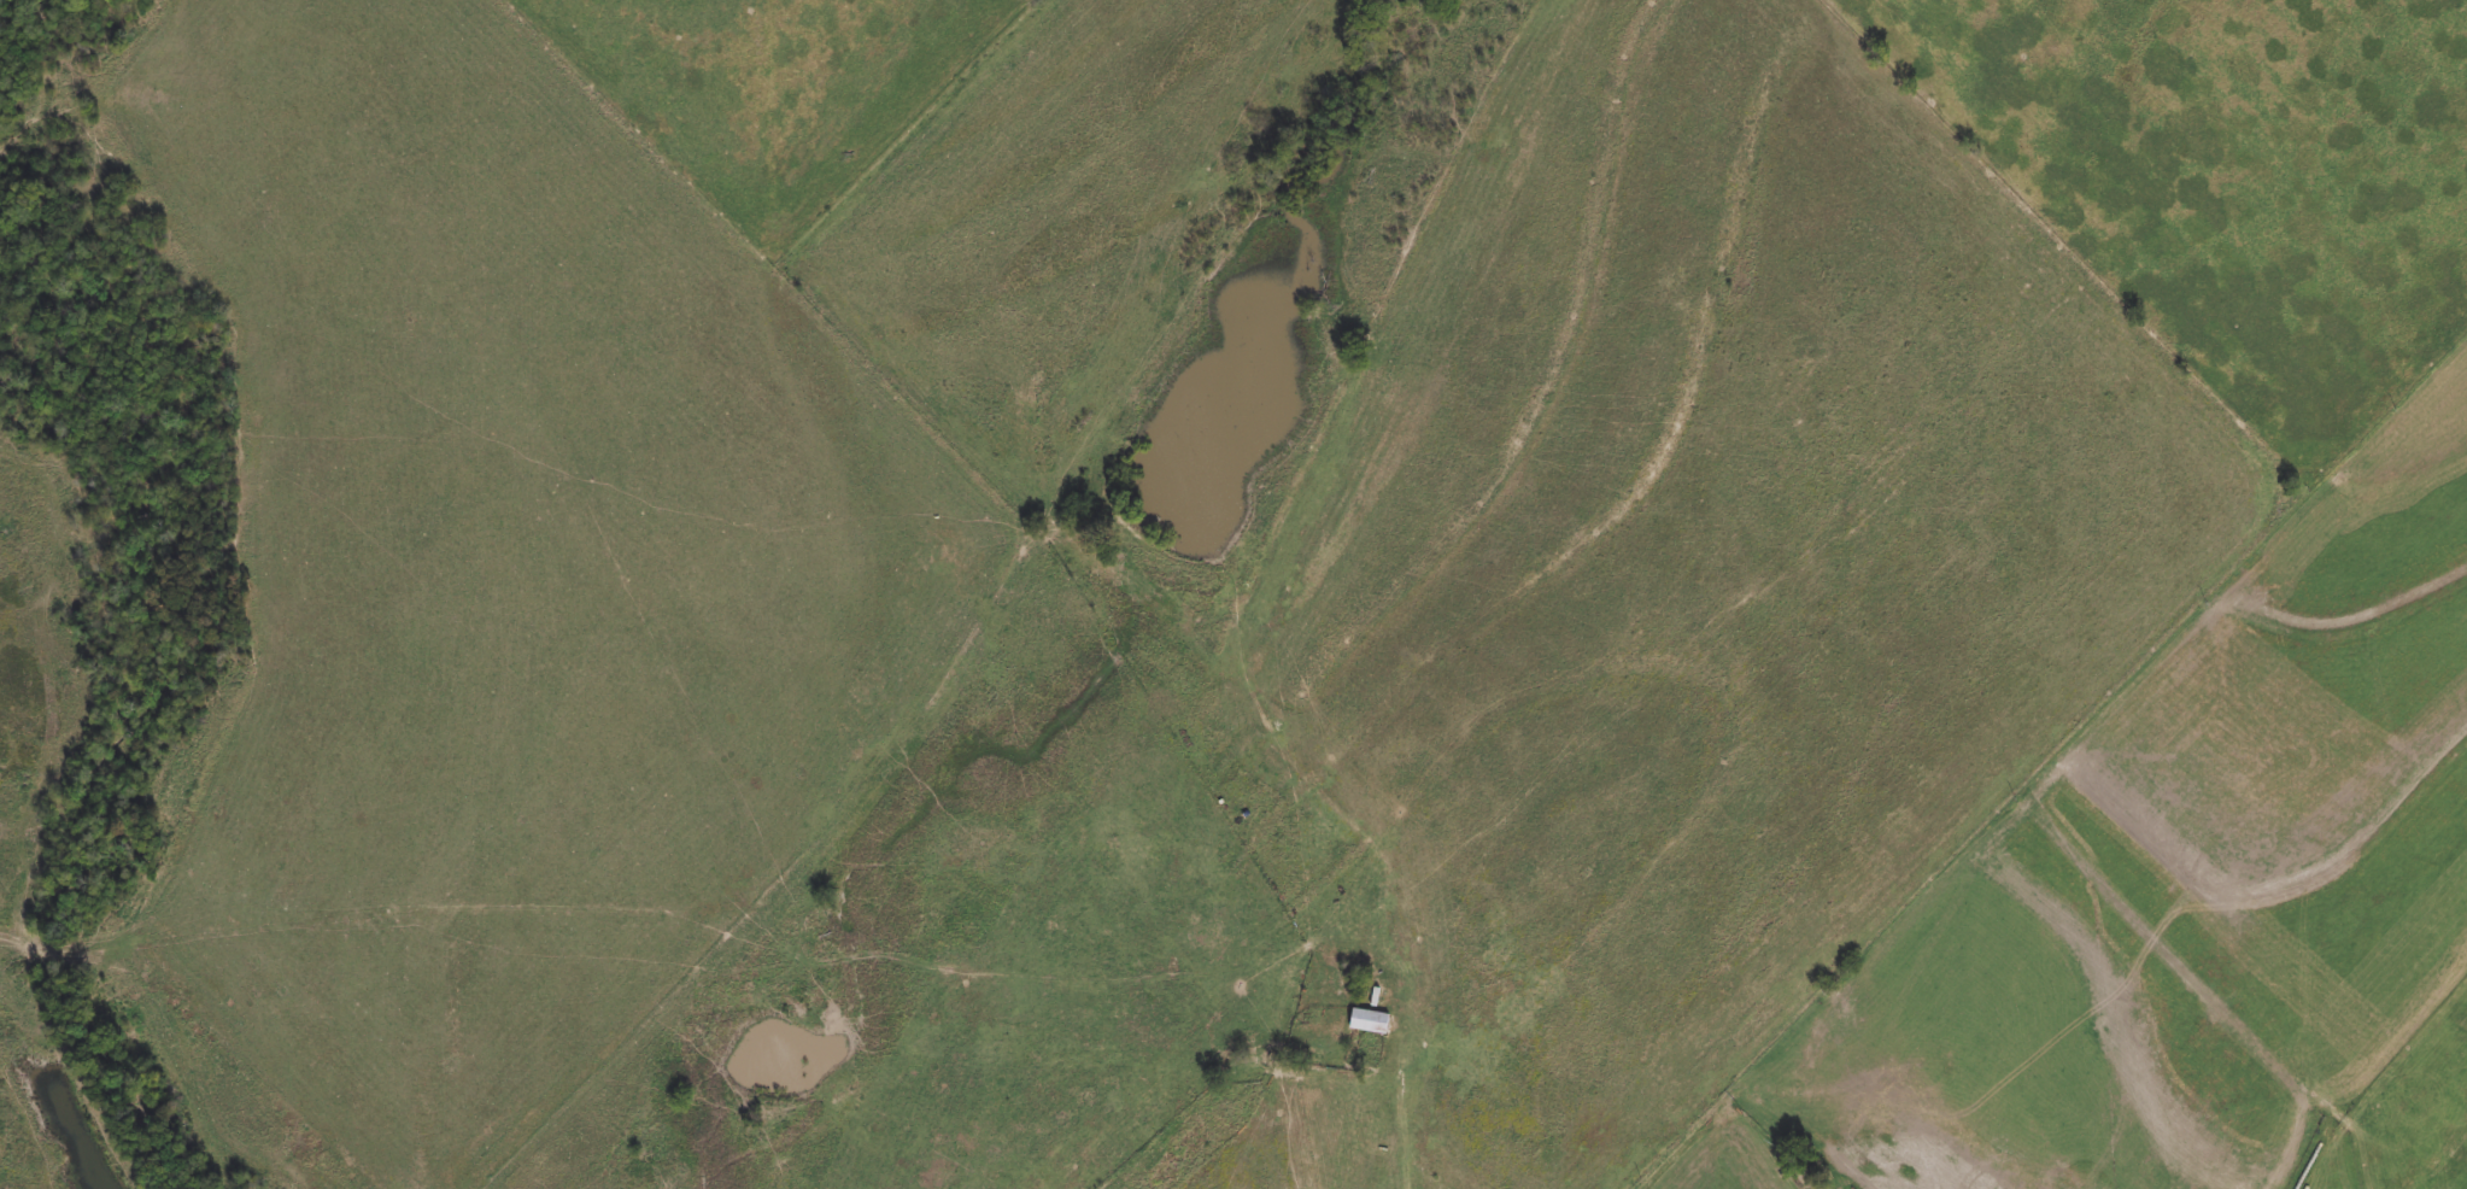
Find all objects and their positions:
building: (1370, 1020)
road: (1411, 1127)

